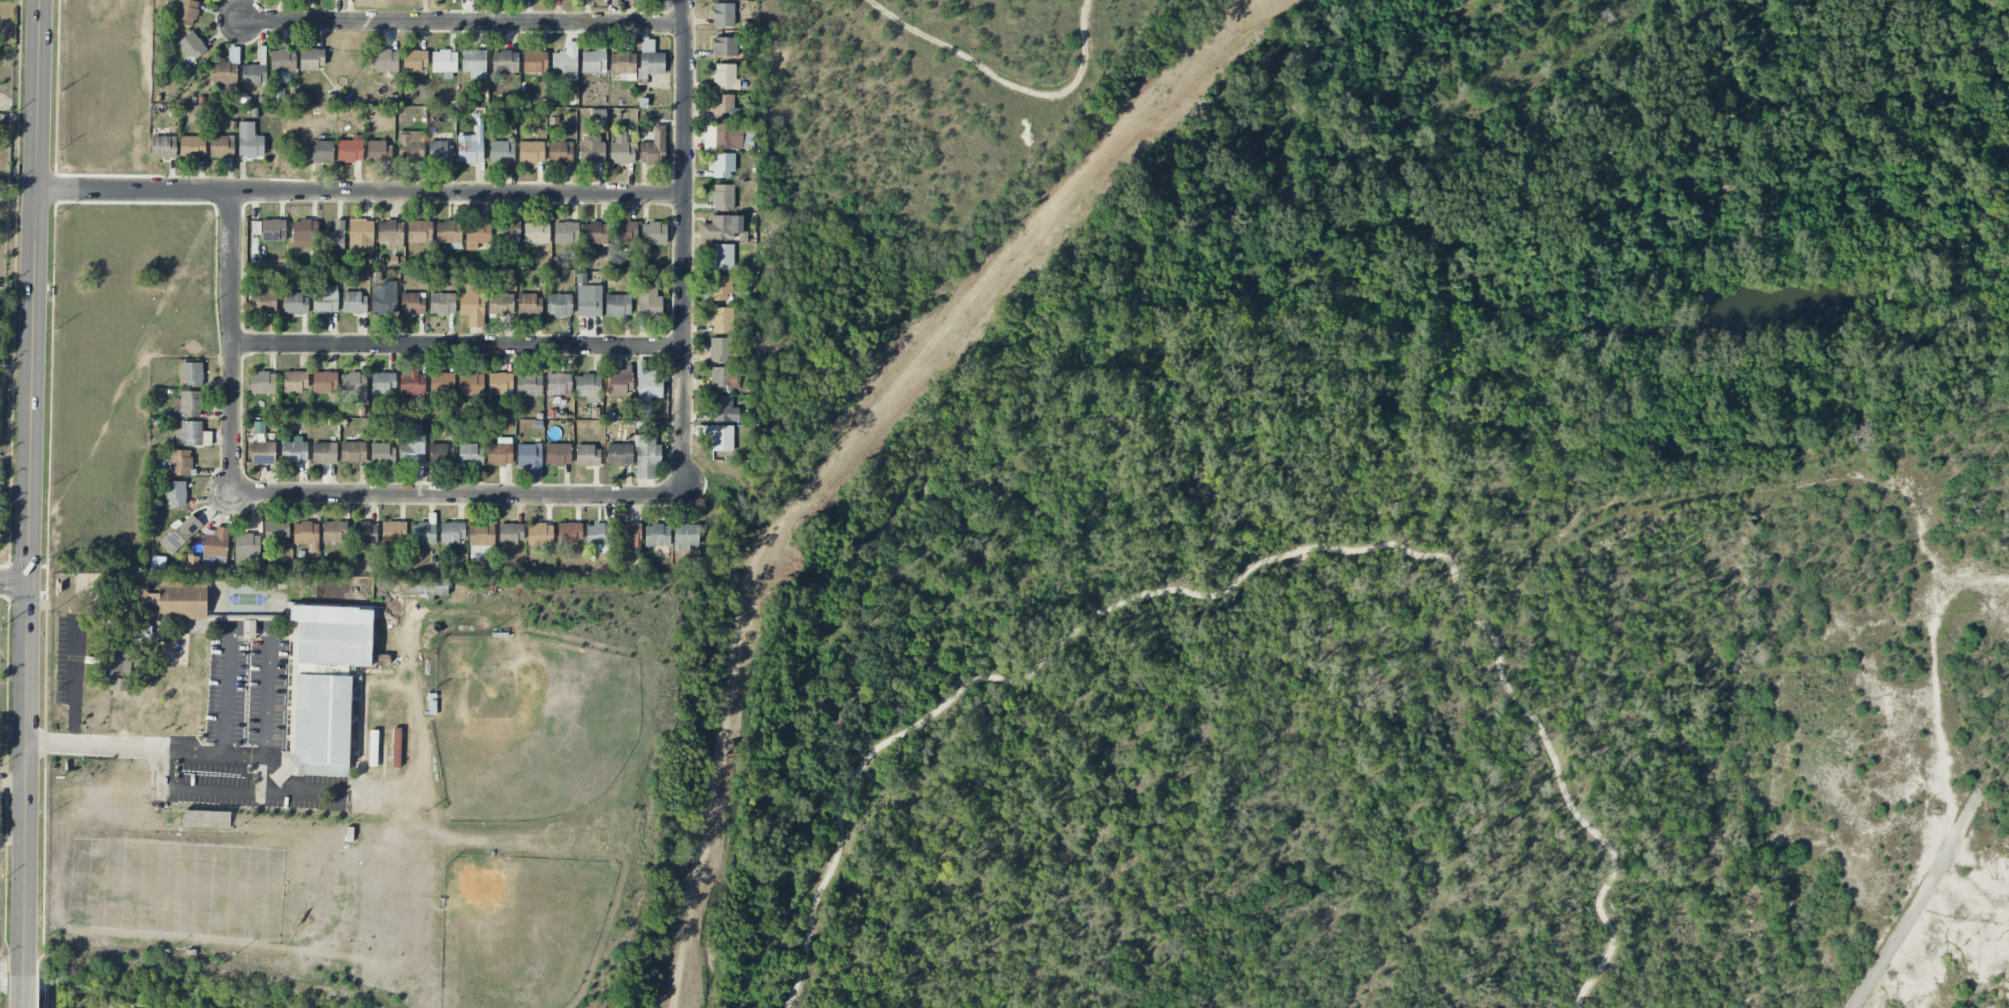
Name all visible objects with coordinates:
building: (308, 0)
building: (628, 3)
building: (186, 12)
building: (723, 14)
road: (464, 22)
building: (725, 46)
building: (191, 47)
building: (311, 59)
building: (650, 59)
building: (283, 60)
building: (385, 60)
building: (415, 60)
building: (505, 61)
building: (535, 61)
building: (565, 62)
building: (593, 62)
building: (444, 63)
building: (474, 63)
building: (226, 69)
building: (255, 71)
building: (725, 77)
building: (277, 95)
building: (726, 107)
building: (600, 116)
building: (722, 136)
building: (249, 141)
building: (471, 145)
building: (192, 146)
building: (221, 146)
building: (163, 147)
building: (411, 147)
building: (653, 147)
building: (350, 149)
building: (591, 149)
building: (440, 151)
building: (320, 152)
building: (379, 152)
building: (502, 152)
building: (531, 152)
building: (560, 152)
building: (723, 165)
road: (360, 192)
building: (723, 197)
building: (255, 228)
building: (717, 228)
building: (273, 229)
building: (511, 230)
building: (420, 231)
building: (536, 232)
building: (565, 232)
building: (624, 232)
building: (595, 233)
building: (304, 234)
building: (391, 234)
building: (477, 234)
building: (653, 234)
building: (361, 236)
building: (336, 238)
road: (685, 248)
building: (722, 257)
building: (719, 288)
building: (264, 297)
building: (384, 298)
building: (325, 300)
building: (648, 301)
building: (354, 302)
building: (412, 303)
building: (442, 303)
building: (296, 304)
building: (501, 304)
building: (529, 304)
building: (473, 305)
building: (559, 305)
building: (617, 305)
building: (723, 320)
road: (232, 341)
road: (459, 344)
building: (720, 350)
building: (192, 374)
building: (724, 379)
building: (295, 381)
building: (325, 382)
building: (383, 382)
building: (621, 382)
building: (263, 383)
building: (412, 383)
building: (500, 383)
building: (647, 383)
building: (471, 384)
building: (558, 384)
building: (442, 385)
building: (529, 385)
building: (354, 387)
building: (588, 387)
building: (187, 404)
building: (723, 409)
building: (192, 434)
building: (718, 436)
building: (413, 446)
building: (294, 452)
building: (353, 452)
building: (500, 452)
building: (263, 453)
building: (324, 453)
building: (440, 453)
building: (382, 454)
building: (558, 454)
building: (619, 454)
building: (470, 455)
building: (587, 456)
building: (646, 457)
building: (530, 459)
building: (180, 462)
road: (29, 487)
building: (175, 493)
road: (456, 495)
building: (276, 531)
building: (334, 531)
building: (393, 532)
building: (452, 532)
building: (569, 532)
building: (180, 533)
building: (364, 533)
building: (422, 533)
building: (510, 533)
building: (481, 534)
building: (628, 534)
building: (306, 535)
building: (540, 535)
building: (656, 535)
building: (598, 536)
building: (685, 536)
building: (215, 543)
building: (249, 545)
building: (481, 551)
building: (194, 562)
road: (1252, 568)
road: (13, 581)
traffic signals: (27, 581)
building: (428, 586)
building: (170, 595)
building: (248, 627)
park: (1304, 656)
building: (116, 665)
building: (323, 687)
road: (76, 689)
road: (266, 719)
building: (396, 747)
road: (175, 749)
road: (212, 793)
building: (206, 819)
road: (22, 991)

